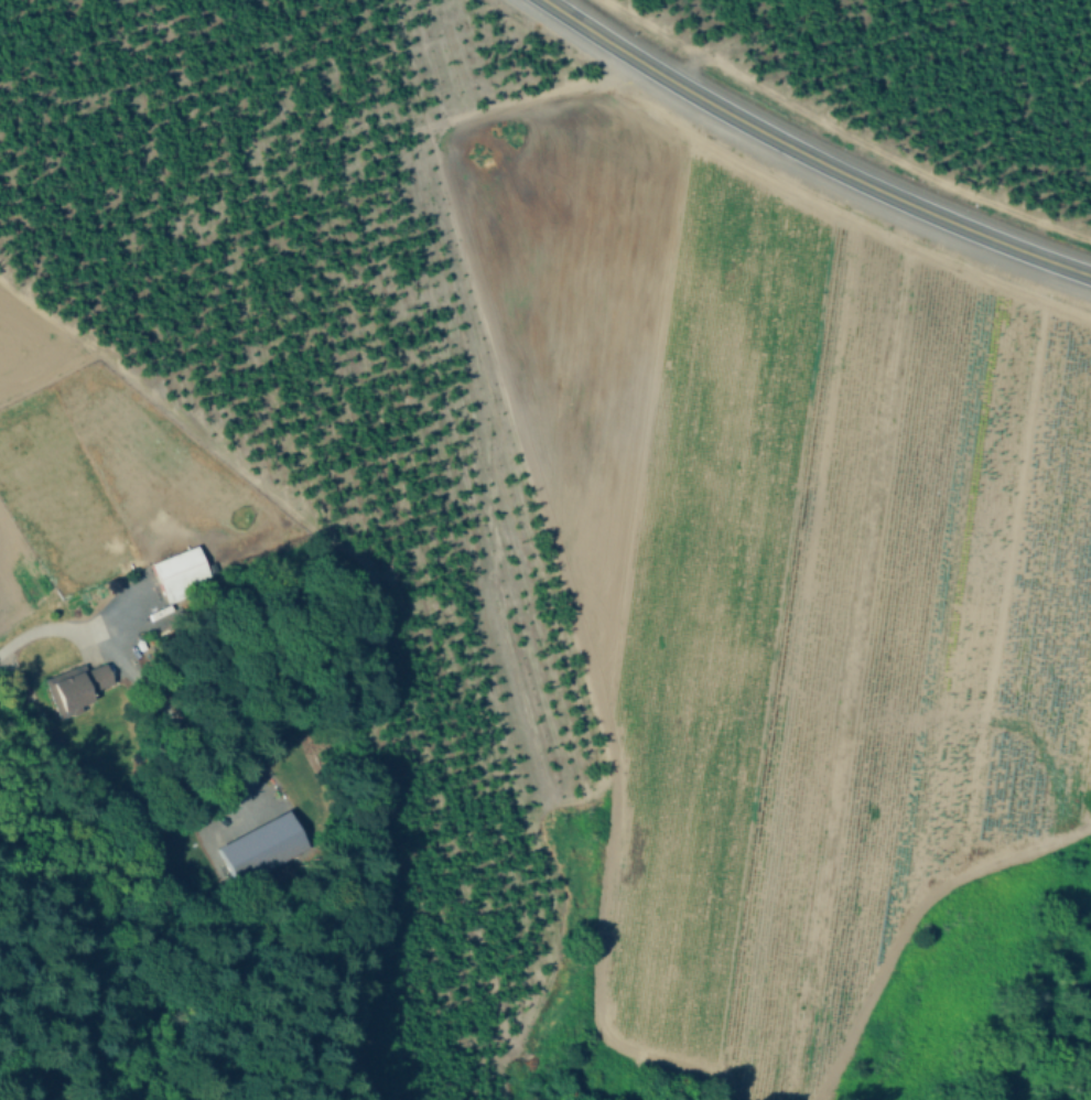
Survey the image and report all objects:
road: (808, 155)
building: (179, 574)
crop: (789, 583)
building: (77, 686)

